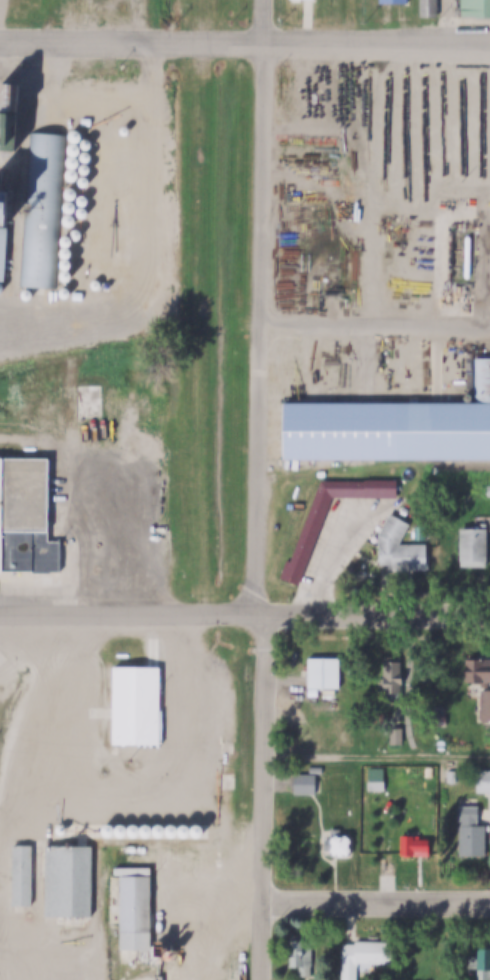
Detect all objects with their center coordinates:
building: (307, 0)
building: (390, 1)
building: (432, 8)
building: (476, 9)
road: (1, 20)
road: (265, 22)
road: (452, 22)
road: (244, 43)
building: (9, 115)
building: (87, 121)
building: (126, 130)
silo: (126, 130)
building: (76, 136)
silo: (76, 136)
building: (88, 142)
silo: (88, 142)
building: (74, 149)
silo: (74, 149)
building: (87, 155)
silo: (87, 155)
building: (73, 162)
silo: (73, 162)
building: (87, 168)
silo: (87, 168)
building: (72, 175)
silo: (72, 175)
building: (86, 180)
silo: (86, 180)
building: (71, 194)
silo: (71, 194)
building: (84, 199)
silo: (84, 199)
building: (3, 207)
building: (70, 207)
silo: (70, 207)
building: (44, 211)
building: (84, 211)
silo: (84, 211)
building: (69, 220)
silo: (69, 220)
building: (77, 234)
silo: (77, 234)
building: (65, 242)
silo: (65, 242)
building: (2, 249)
building: (65, 254)
silo: (65, 254)
building: (65, 265)
silo: (65, 265)
building: (64, 276)
silo: (64, 276)
building: (104, 283)
silo: (104, 283)
building: (2, 289)
silo: (2, 289)
building: (67, 291)
silo: (67, 291)
building: (29, 294)
silo: (29, 294)
building: (164, 295)
road: (85, 320)
road: (375, 325)
road: (36, 350)
building: (92, 401)
building: (390, 430)
building: (489, 488)
building: (487, 495)
road: (256, 512)
building: (24, 518)
building: (389, 536)
building: (306, 539)
building: (470, 551)
building: (406, 557)
road: (245, 616)
building: (321, 673)
building: (390, 678)
building: (479, 682)
building: (135, 706)
building: (395, 735)
road: (377, 758)
building: (316, 770)
building: (449, 777)
building: (404, 779)
building: (386, 781)
building: (482, 782)
building: (304, 784)
building: (110, 829)
silo: (110, 829)
building: (123, 829)
silo: (123, 829)
building: (136, 829)
silo: (136, 829)
building: (148, 829)
silo: (148, 829)
building: (161, 829)
silo: (161, 829)
building: (173, 829)
silo: (173, 829)
building: (62, 830)
silo: (62, 830)
building: (186, 830)
silo: (186, 830)
building: (198, 830)
silo: (198, 830)
building: (468, 834)
building: (335, 844)
building: (412, 847)
building: (21, 877)
building: (66, 882)
road: (377, 904)
building: (133, 914)
building: (298, 956)
building: (480, 957)
building: (356, 958)

